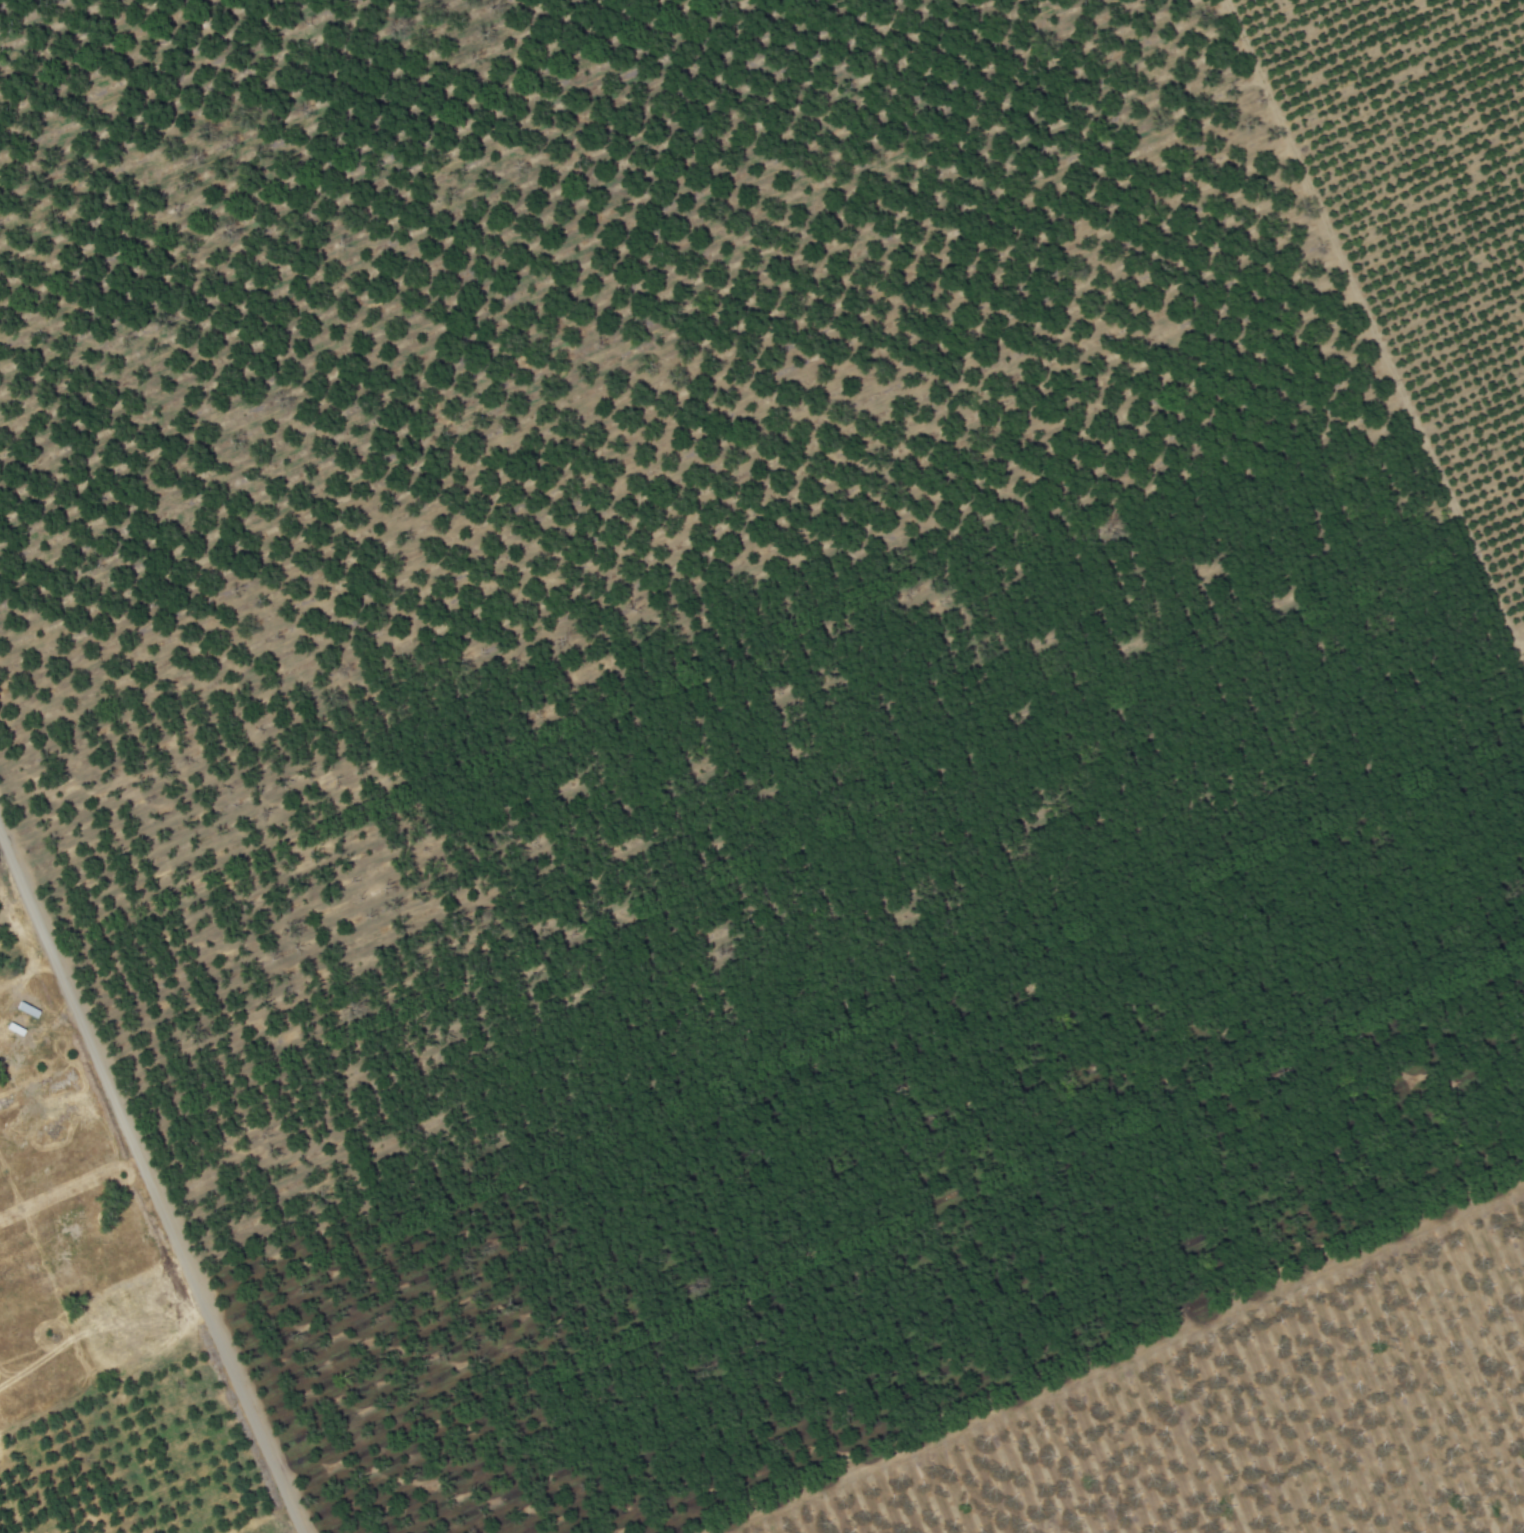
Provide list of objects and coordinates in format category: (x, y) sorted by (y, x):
road: (147, 1190)

